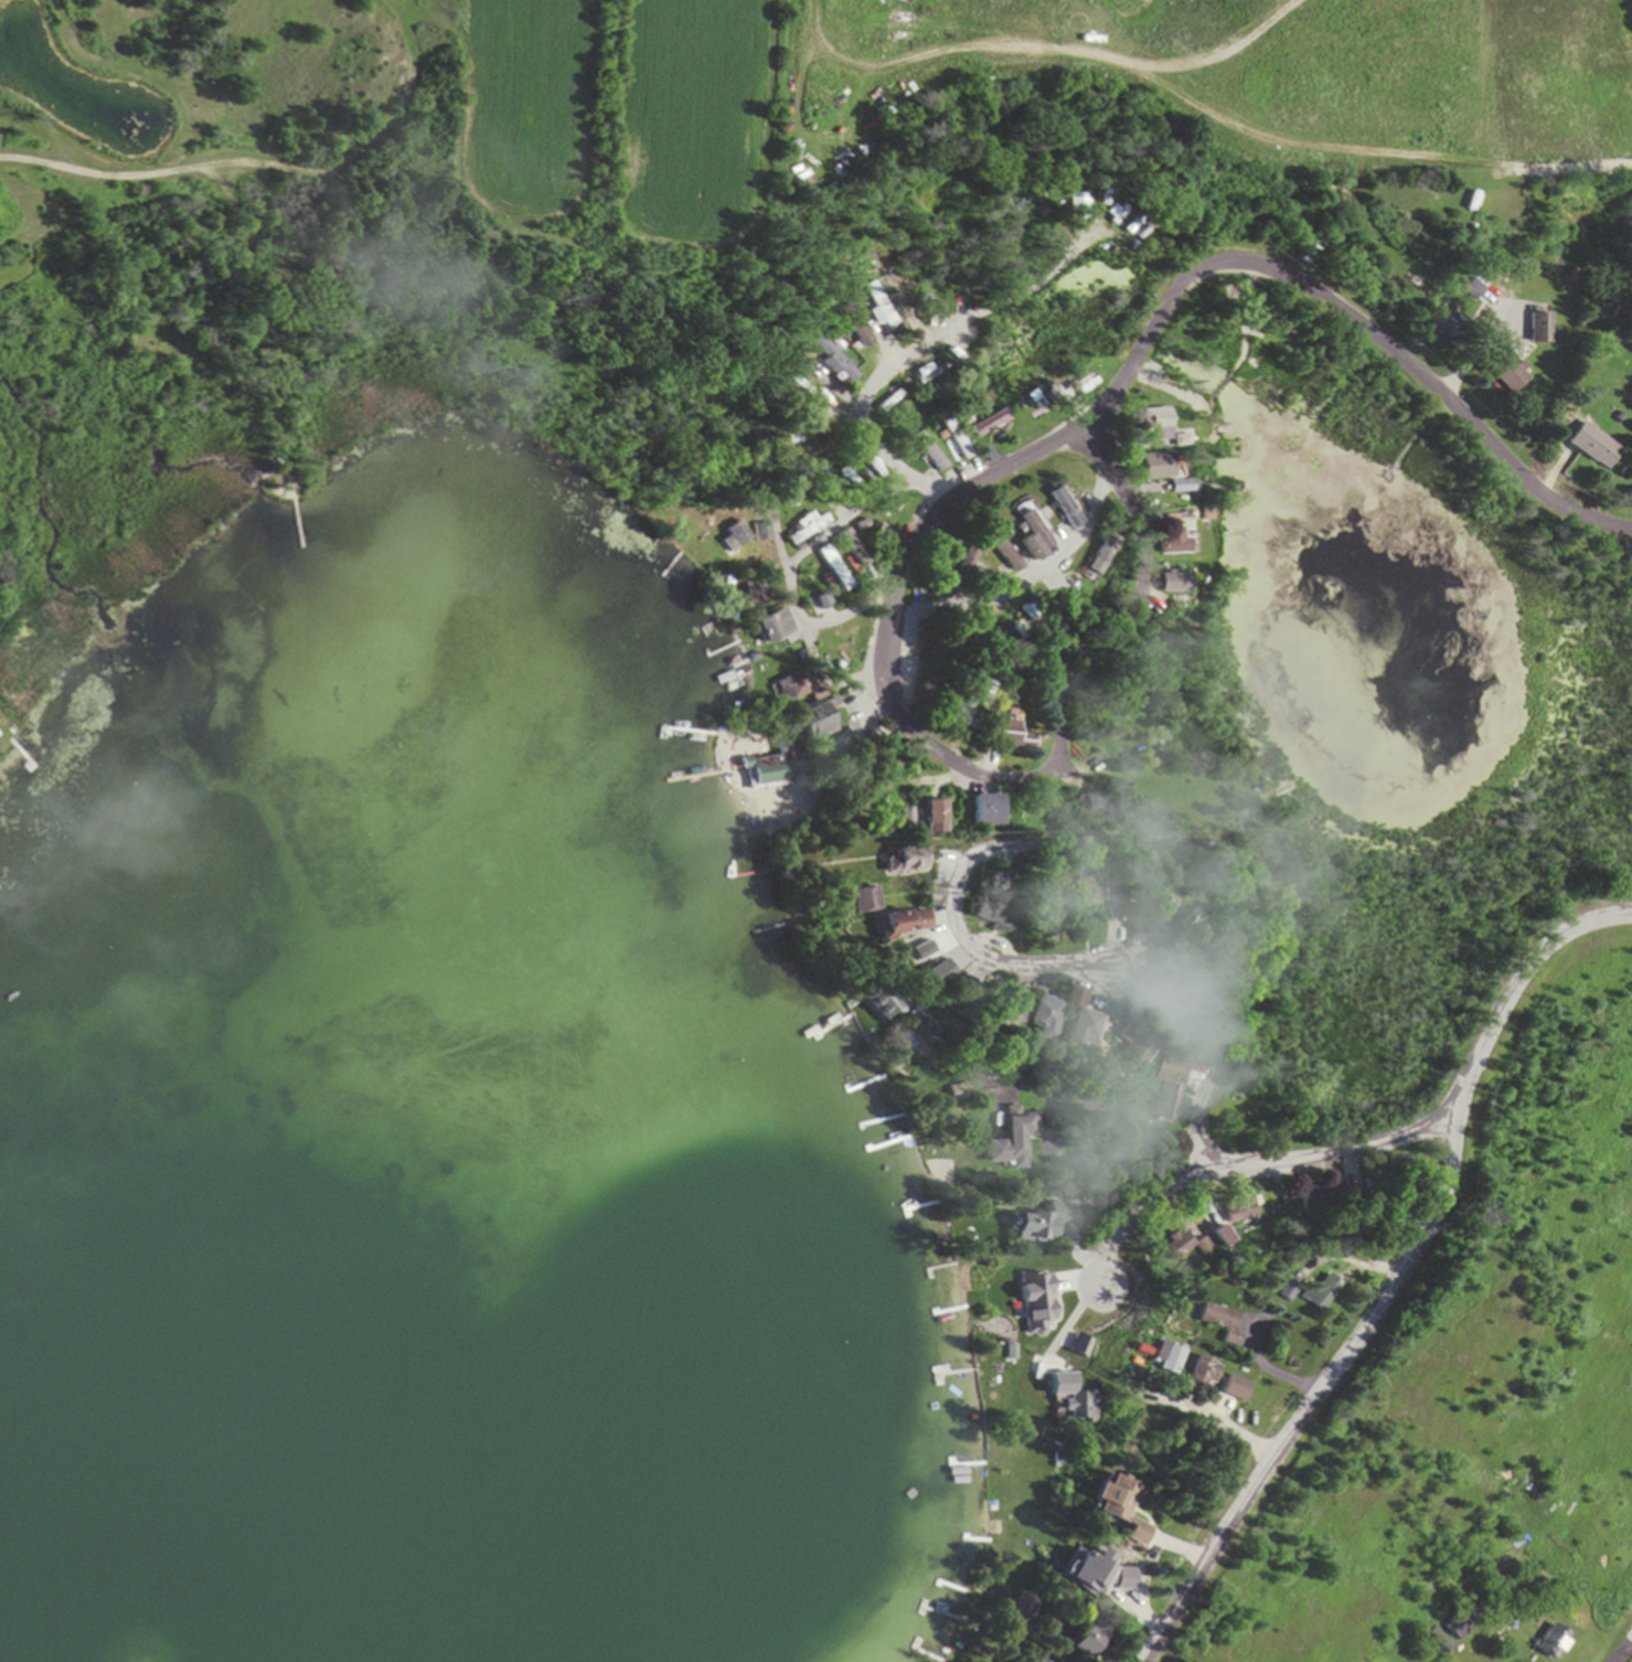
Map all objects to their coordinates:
road: (1223, 53)
road: (1248, 130)
building: (1082, 205)
building: (1478, 289)
building: (884, 310)
road: (971, 312)
road: (1350, 316)
building: (856, 327)
building: (1543, 328)
building: (832, 360)
building: (1507, 373)
building: (807, 391)
building: (1041, 401)
building: (989, 424)
building: (1156, 425)
building: (957, 444)
building: (1594, 447)
building: (928, 452)
road: (889, 464)
building: (1158, 467)
road: (974, 487)
building: (1059, 509)
building: (803, 531)
building: (881, 535)
building: (1027, 535)
building: (740, 537)
building: (1174, 543)
building: (999, 554)
building: (835, 569)
building: (1174, 584)
road: (1030, 585)
building: (755, 589)
road: (890, 595)
road: (797, 605)
building: (774, 627)
building: (793, 686)
building: (812, 723)
road: (1060, 725)
building: (1006, 736)
building: (775, 764)
road: (1087, 779)
road: (932, 787)
building: (1089, 808)
building: (975, 812)
building: (921, 817)
building: (887, 820)
road: (1135, 844)
building: (897, 863)
building: (1067, 899)
building: (853, 903)
building: (981, 917)
building: (1139, 921)
building: (890, 926)
building: (1141, 1001)
building: (883, 1003)
building: (996, 1013)
building: (1031, 1021)
building: (1067, 1024)
building: (1169, 1085)
building: (1011, 1141)
road: (1314, 1160)
building: (1355, 1178)
building: (1236, 1218)
building: (1041, 1225)
building: (1178, 1245)
building: (1321, 1292)
building: (1217, 1321)
building: (1204, 1373)
building: (1236, 1388)
road: (1318, 1395)
road: (1213, 1417)
building: (1114, 1507)
building: (1101, 1576)
building: (1458, 1623)
building: (1437, 1641)
building: (1551, 1643)
building: (1084, 1645)
road: (1623, 1652)

